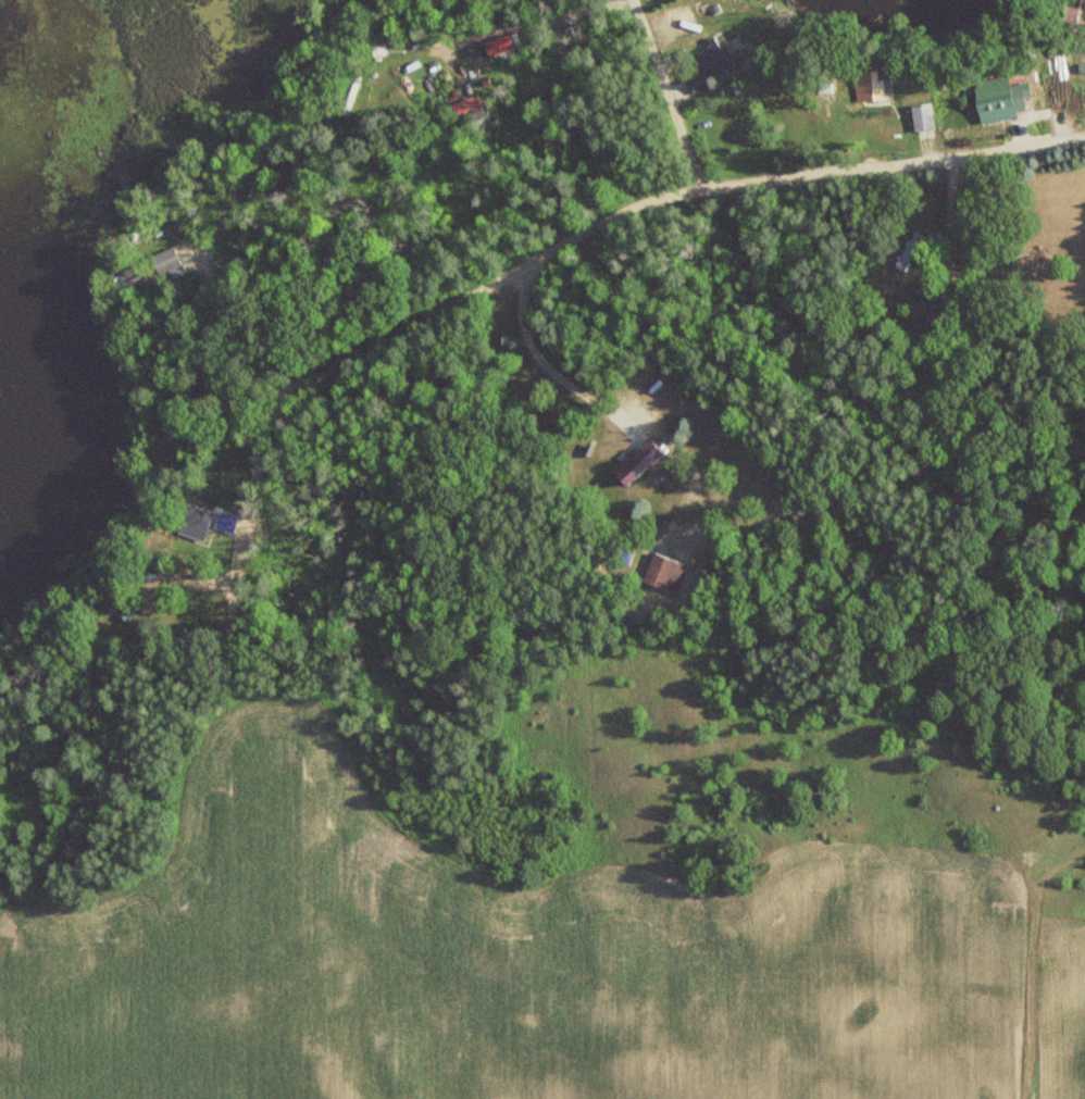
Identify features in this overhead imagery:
building: (1069, 14)
building: (704, 64)
road: (661, 76)
building: (347, 95)
building: (993, 105)
building: (463, 111)
road: (553, 140)
road: (878, 171)
road: (573, 199)
building: (909, 251)
building: (167, 262)
building: (123, 282)
road: (249, 314)
road: (527, 350)
building: (634, 462)
building: (191, 521)
building: (657, 572)

